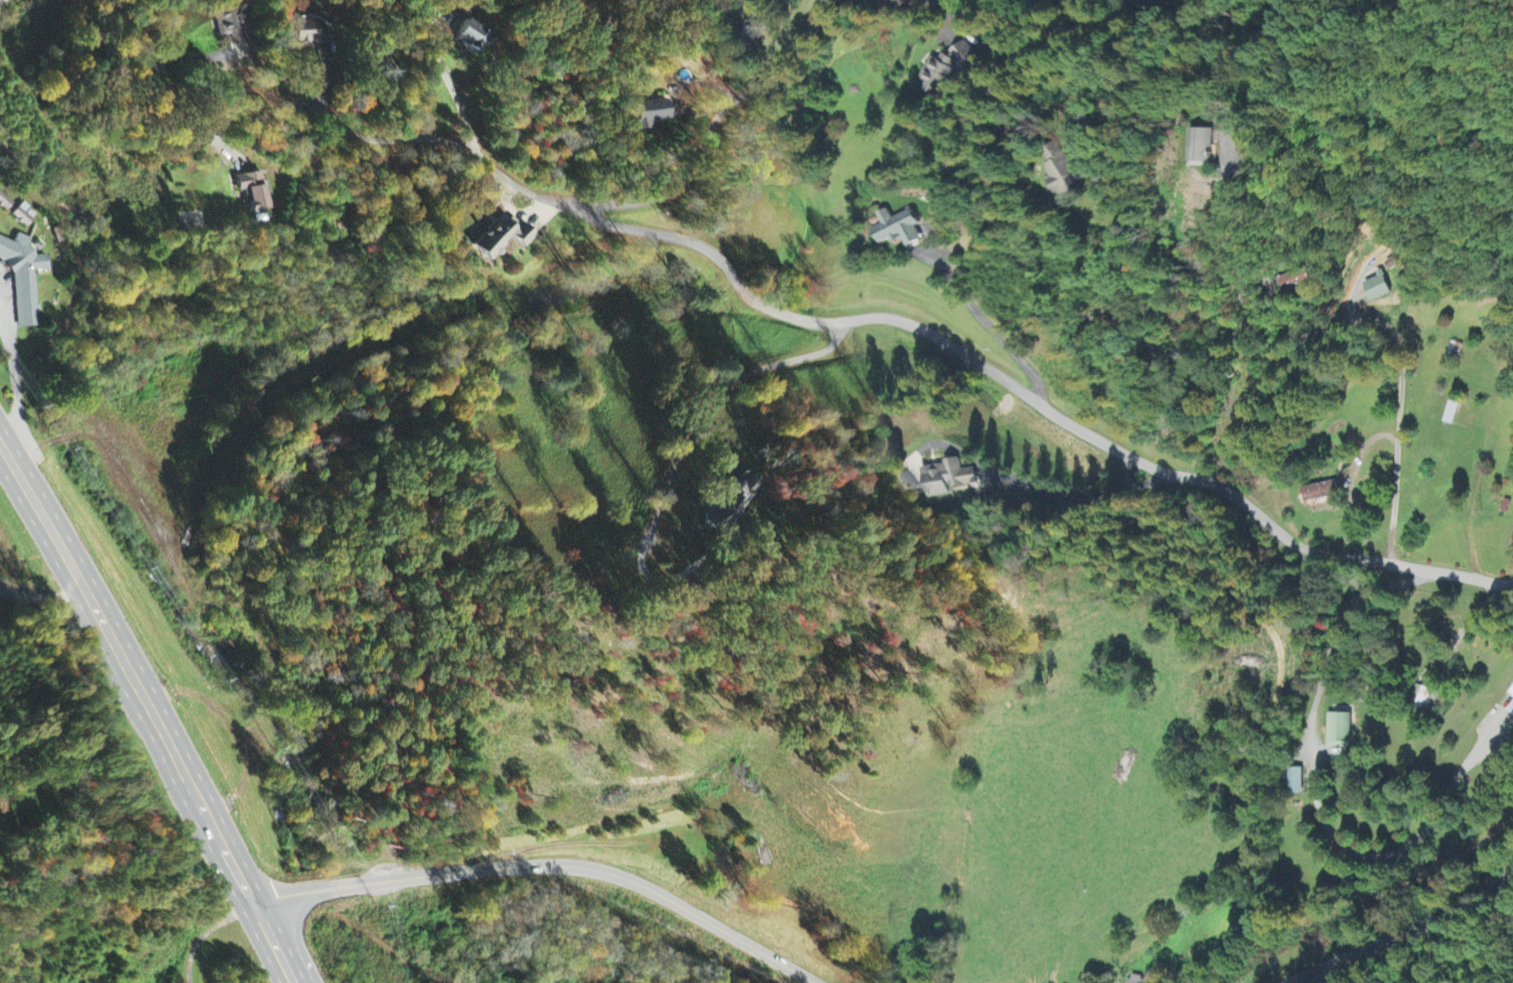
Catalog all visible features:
road: (1278, 1)
road: (1146, 3)
building: (230, 21)
building: (309, 33)
building: (470, 35)
building: (943, 71)
building: (651, 113)
road: (719, 122)
building: (1203, 147)
building: (1063, 172)
building: (253, 191)
building: (5, 203)
building: (24, 215)
building: (899, 229)
building: (503, 237)
building: (24, 278)
building: (1298, 279)
building: (1378, 288)
road: (789, 314)
road: (986, 318)
building: (1450, 414)
road: (1398, 433)
road: (5, 452)
road: (676, 458)
building: (949, 478)
building: (1320, 494)
building: (735, 501)
road: (41, 590)
building: (1511, 693)
building: (1423, 696)
building: (1511, 710)
road: (156, 719)
building: (1340, 731)
building: (1298, 782)
road: (544, 866)
road: (1406, 934)
building: (1138, 981)

